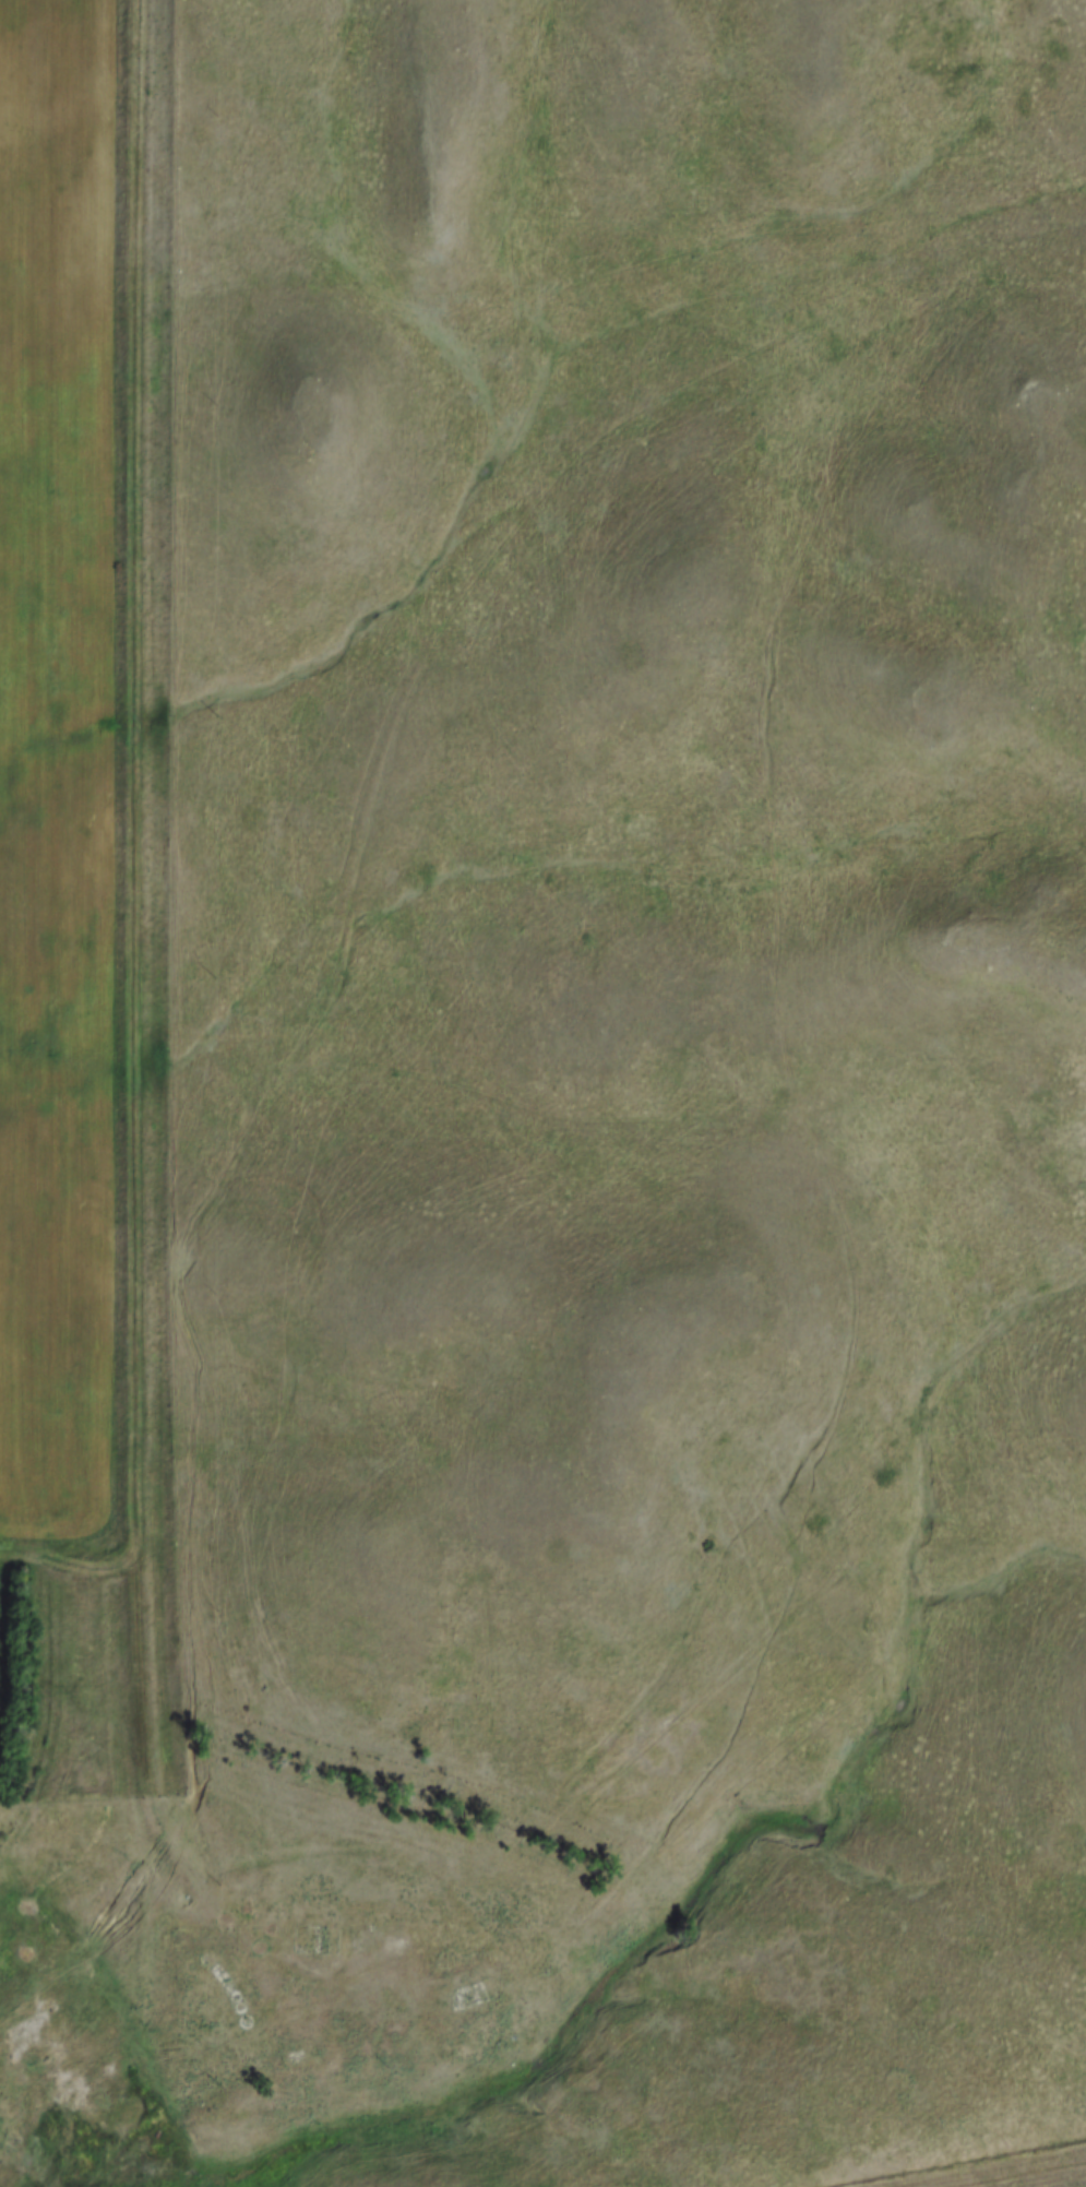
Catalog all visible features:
road: (136, 891)
road: (69, 1568)

